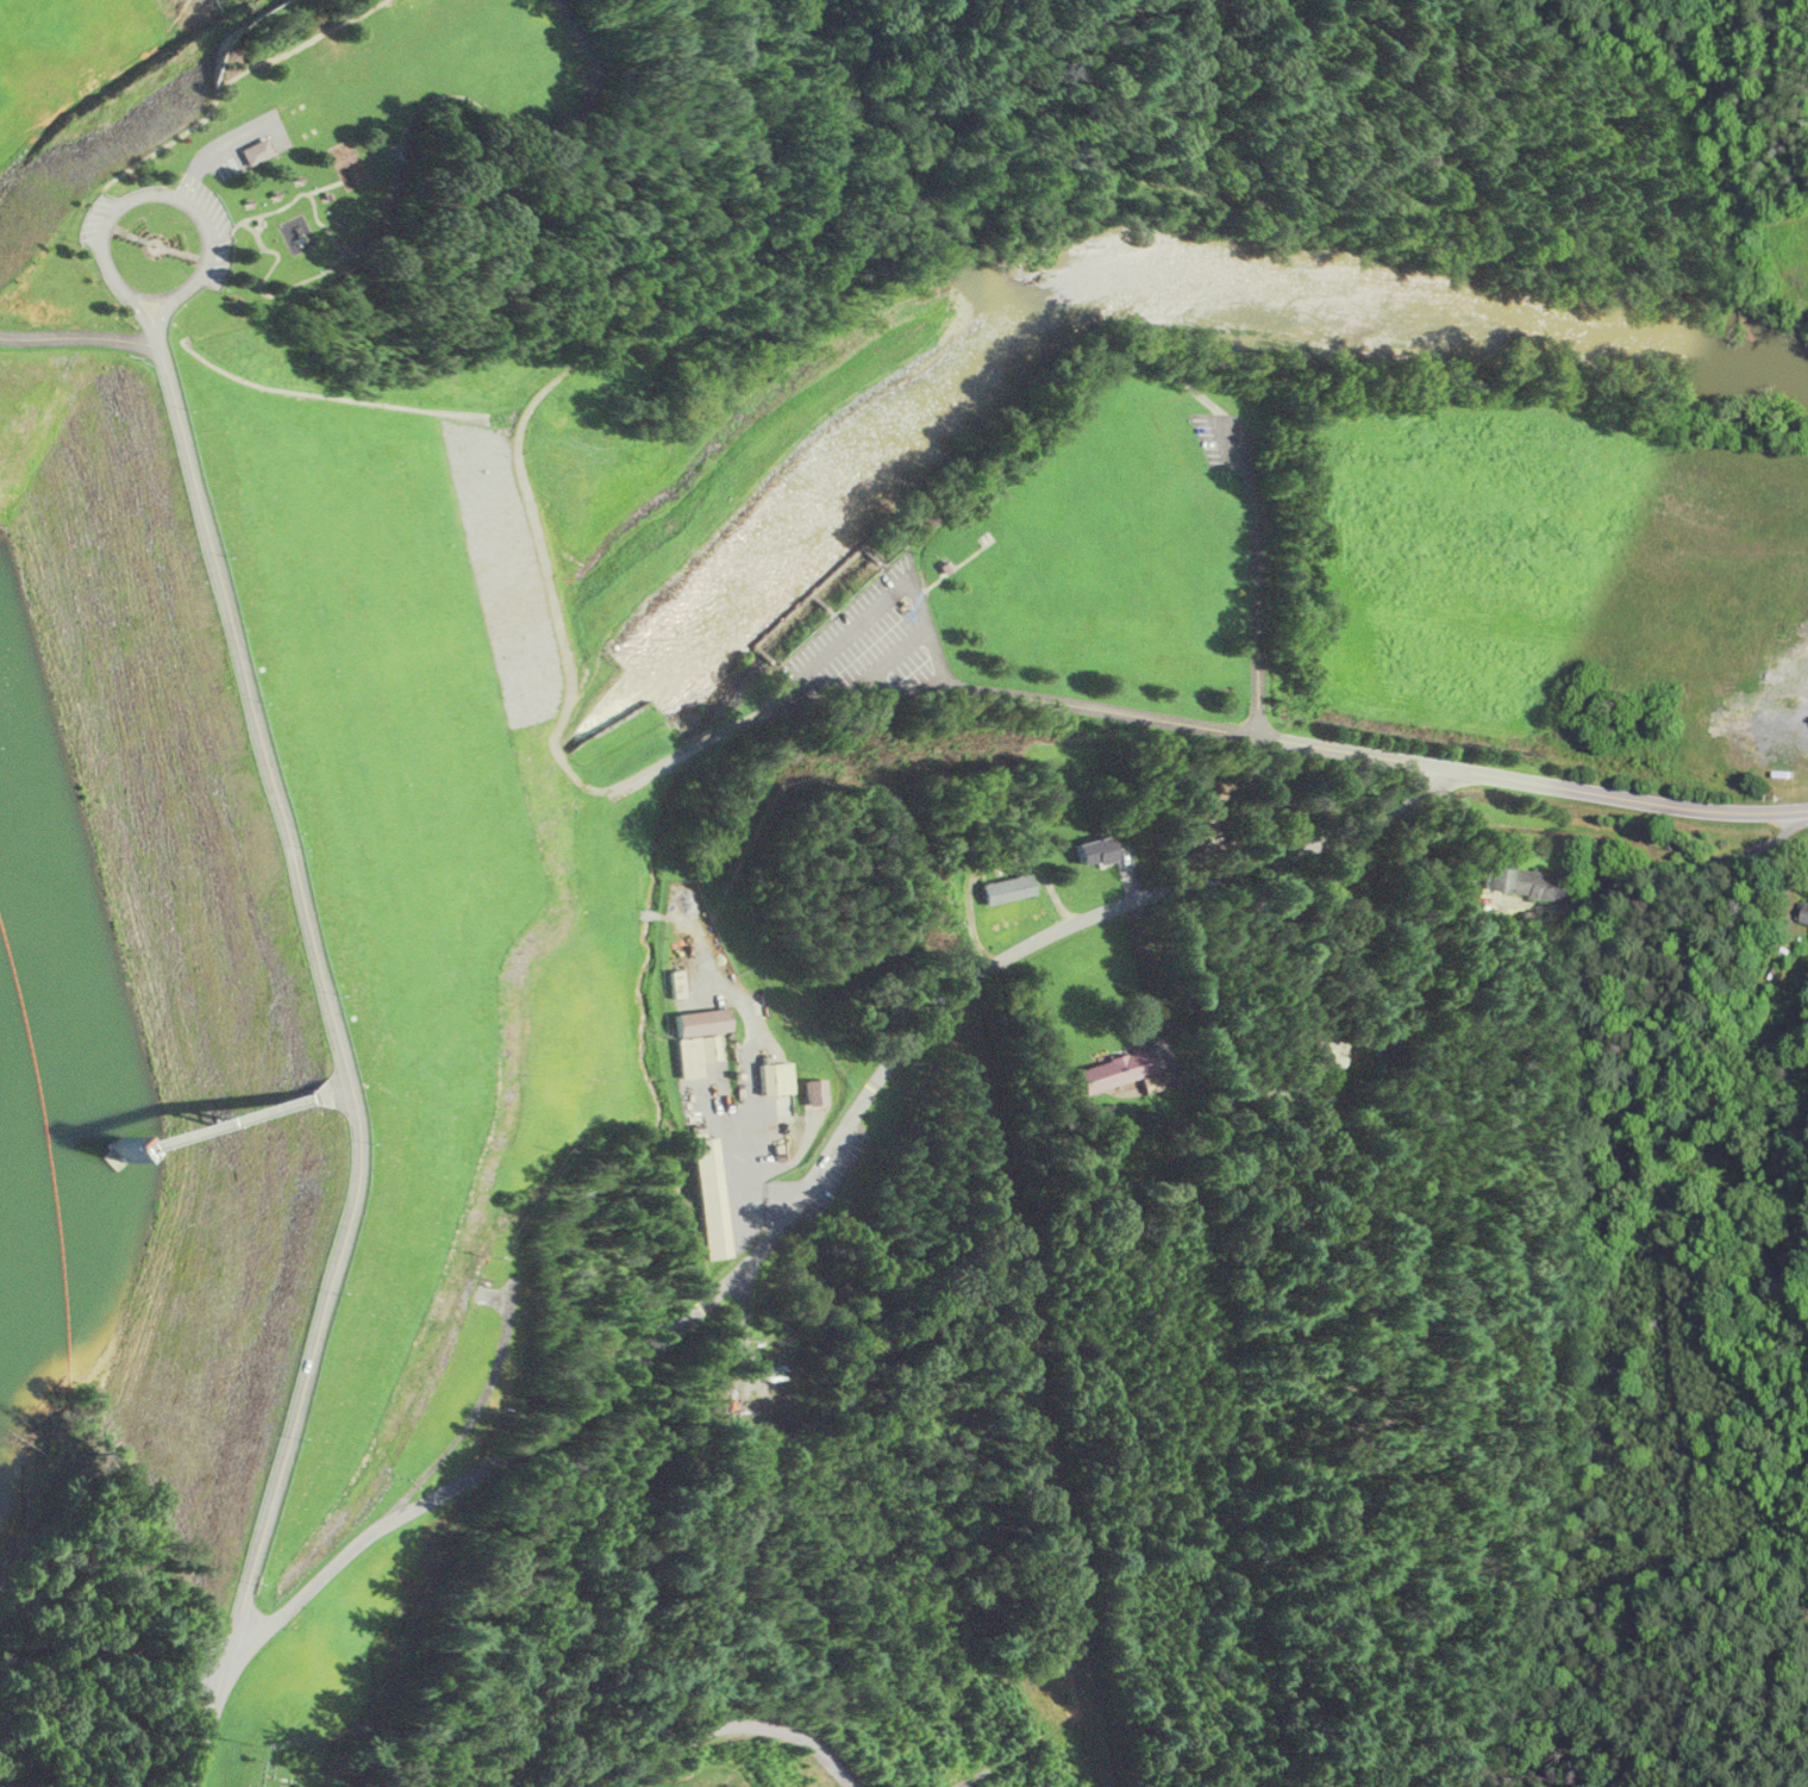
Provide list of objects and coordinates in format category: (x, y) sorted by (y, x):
road: (100, 82)
road: (218, 86)
road: (471, 101)
road: (684, 115)
road: (218, 145)
building: (257, 149)
building: (401, 151)
parking lot: (226, 174)
road: (1205, 189)
road: (306, 192)
parking lot: (94, 218)
road: (1731, 227)
road: (206, 230)
road: (229, 236)
road: (101, 260)
building: (345, 262)
road: (259, 290)
river: (1478, 323)
road: (77, 336)
road: (1181, 377)
road: (1230, 418)
road: (1235, 418)
parking lot: (1222, 438)
road: (523, 471)
river: (847, 493)
road: (1256, 576)
parking lot: (862, 650)
road: (1026, 698)
road: (1806, 721)
road: (1353, 749)
road: (1627, 798)
building: (1244, 816)
building: (1090, 851)
building: (1515, 882)
building: (1002, 889)
building: (1804, 913)
river: (343, 948)
road: (312, 970)
road: (1152, 974)
building: (683, 983)
dam: (330, 987)
road: (1195, 1021)
building: (705, 1038)
building: (1310, 1060)
building: (1115, 1071)
building: (783, 1086)
building: (818, 1091)
road: (326, 1092)
road: (218, 1123)
road: (820, 1162)
river: (63, 1189)
building: (712, 1198)
building: (751, 1400)
road: (209, 1714)
road: (749, 1724)

